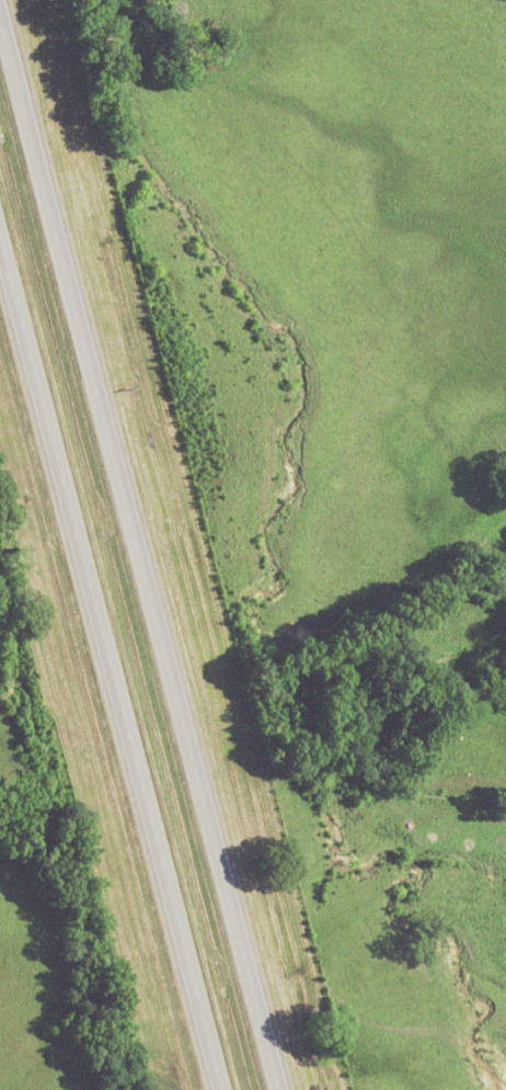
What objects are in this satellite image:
road: (136, 558)
road: (108, 668)

